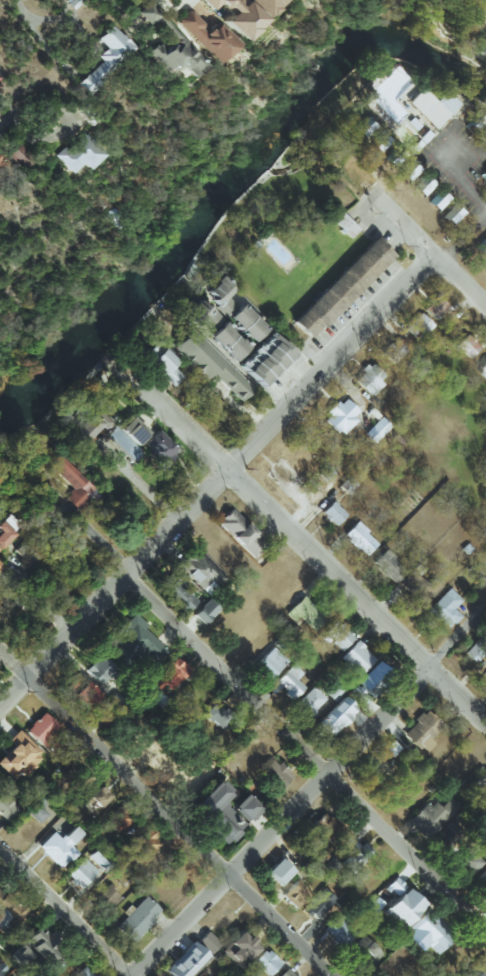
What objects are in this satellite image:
building: (264, 5)
road: (114, 9)
building: (149, 13)
building: (234, 15)
road: (33, 24)
building: (205, 36)
building: (106, 58)
building: (394, 94)
building: (432, 106)
building: (87, 112)
building: (477, 122)
building: (367, 130)
building: (484, 135)
building: (378, 143)
building: (80, 153)
building: (20, 156)
road: (436, 158)
building: (0, 165)
building: (408, 172)
building: (484, 176)
building: (422, 185)
building: (438, 201)
building: (452, 215)
building: (114, 217)
building: (349, 230)
road: (414, 233)
road: (464, 240)
building: (482, 248)
building: (341, 287)
building: (215, 289)
building: (434, 307)
building: (200, 314)
building: (246, 322)
building: (417, 325)
building: (227, 341)
building: (465, 345)
building: (153, 349)
building: (392, 351)
building: (264, 359)
road: (331, 362)
building: (209, 363)
building: (165, 366)
building: (482, 369)
building: (369, 378)
road: (241, 409)
building: (340, 415)
building: (89, 425)
building: (376, 429)
building: (124, 435)
building: (158, 449)
building: (280, 474)
building: (65, 477)
road: (143, 486)
building: (311, 495)
building: (332, 513)
building: (7, 528)
building: (240, 533)
building: (359, 538)
road: (95, 539)
road: (306, 547)
building: (387, 566)
building: (200, 570)
building: (418, 584)
road: (114, 591)
building: (175, 593)
road: (41, 601)
building: (444, 608)
building: (204, 611)
building: (302, 614)
building: (336, 634)
building: (133, 643)
building: (475, 650)
building: (355, 657)
building: (268, 663)
road: (15, 664)
building: (100, 669)
building: (170, 674)
building: (374, 679)
building: (287, 684)
building: (333, 692)
building: (358, 693)
building: (85, 694)
building: (308, 701)
building: (218, 715)
building: (334, 716)
building: (43, 731)
building: (421, 731)
road: (306, 753)
building: (19, 756)
building: (201, 762)
building: (274, 774)
building: (479, 786)
road: (309, 794)
building: (7, 806)
building: (223, 812)
building: (430, 817)
building: (118, 819)
road: (182, 827)
building: (328, 827)
building: (448, 836)
building: (143, 844)
building: (60, 846)
building: (348, 857)
building: (100, 859)
building: (464, 861)
building: (278, 870)
building: (81, 873)
building: (481, 879)
building: (296, 891)
building: (104, 896)
building: (398, 902)
building: (318, 903)
building: (373, 905)
building: (8, 912)
road: (65, 912)
building: (137, 919)
building: (338, 931)
building: (431, 931)
building: (207, 942)
building: (33, 946)
building: (239, 948)
building: (365, 950)
building: (185, 961)
building: (266, 961)
building: (476, 967)
building: (1, 970)
building: (83, 972)
building: (285, 973)
building: (199, 974)

